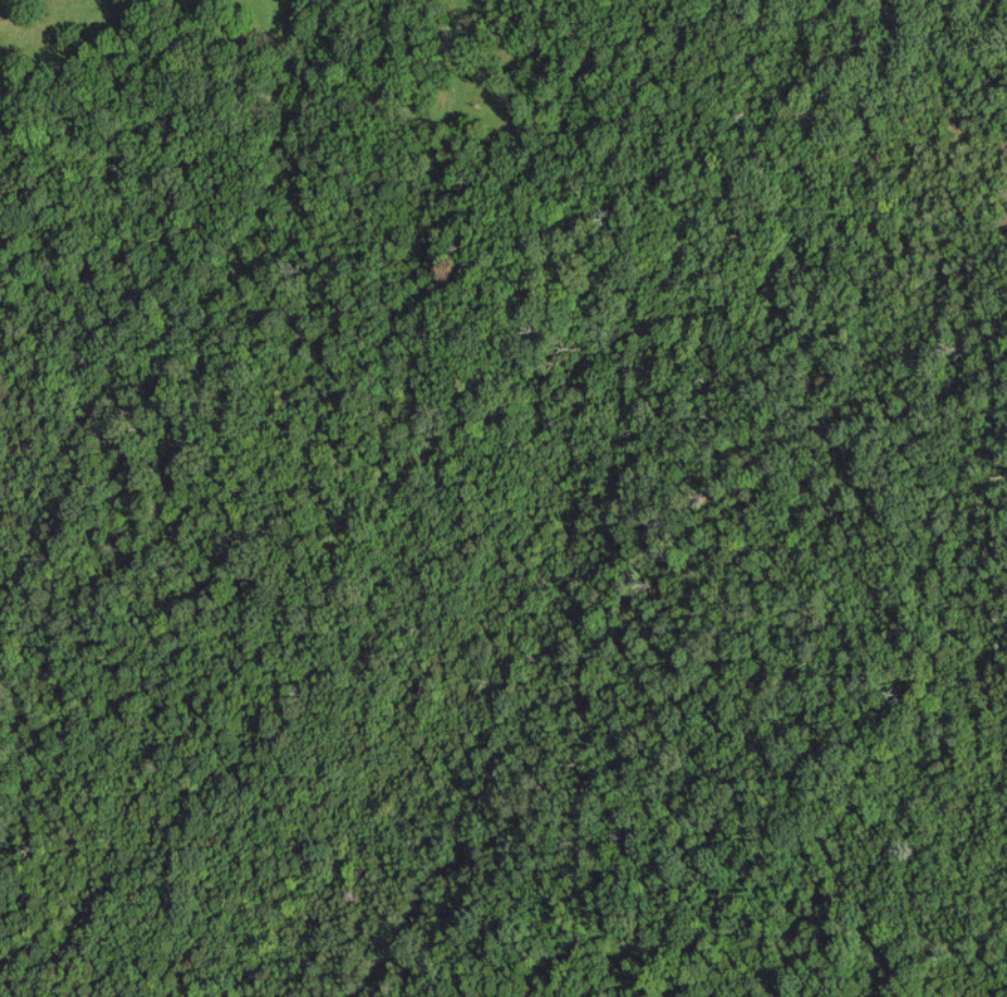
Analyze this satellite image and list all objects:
road: (749, 941)

